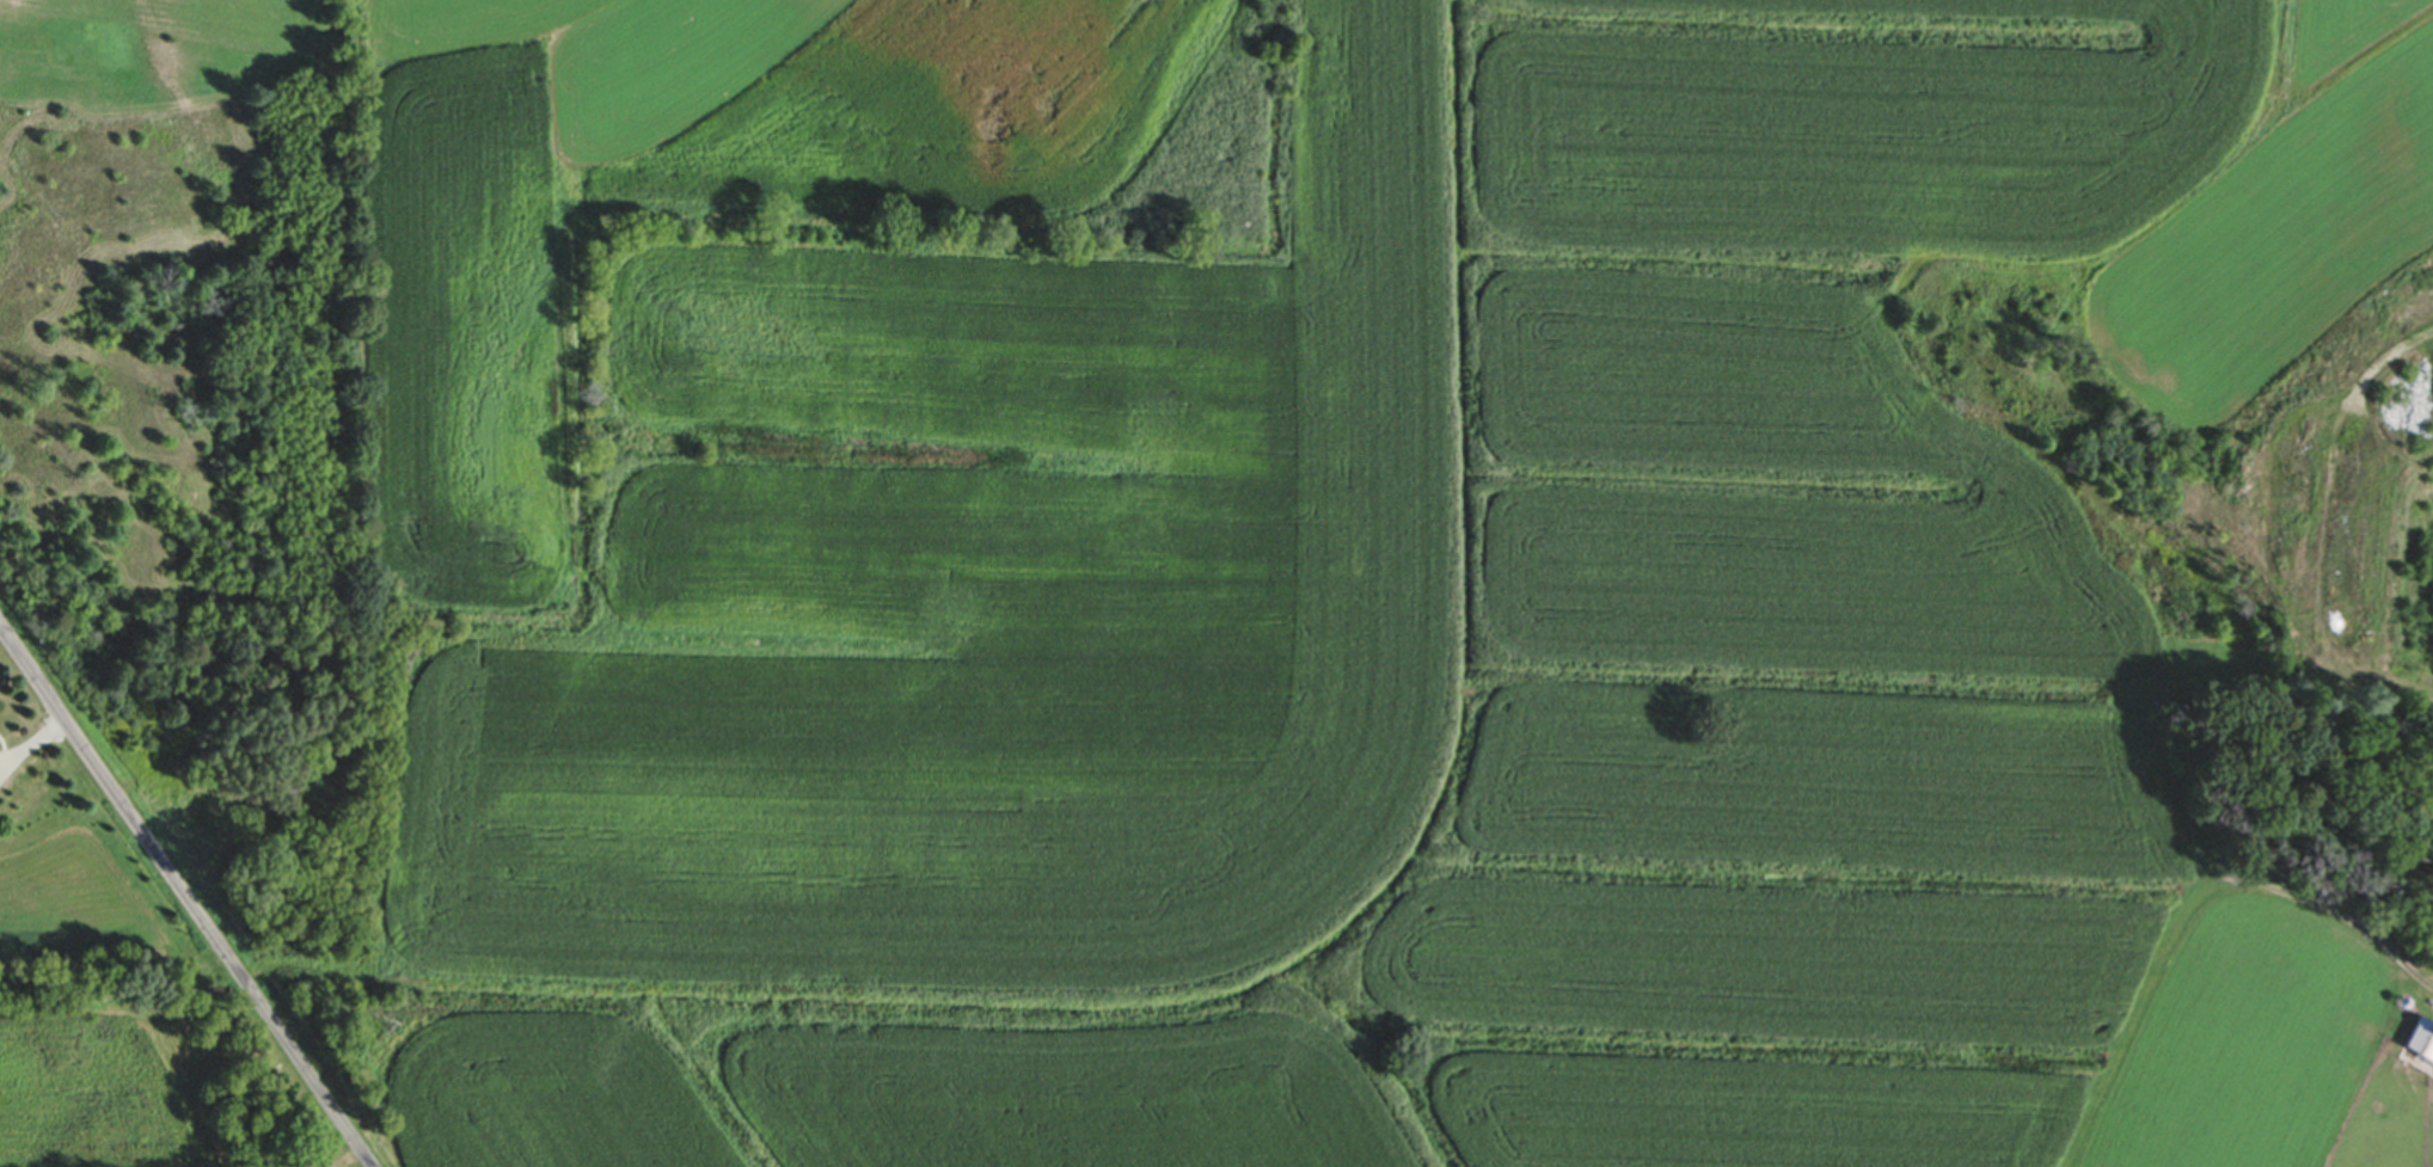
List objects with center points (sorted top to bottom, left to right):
road: (183, 897)
building: (2419, 1040)

